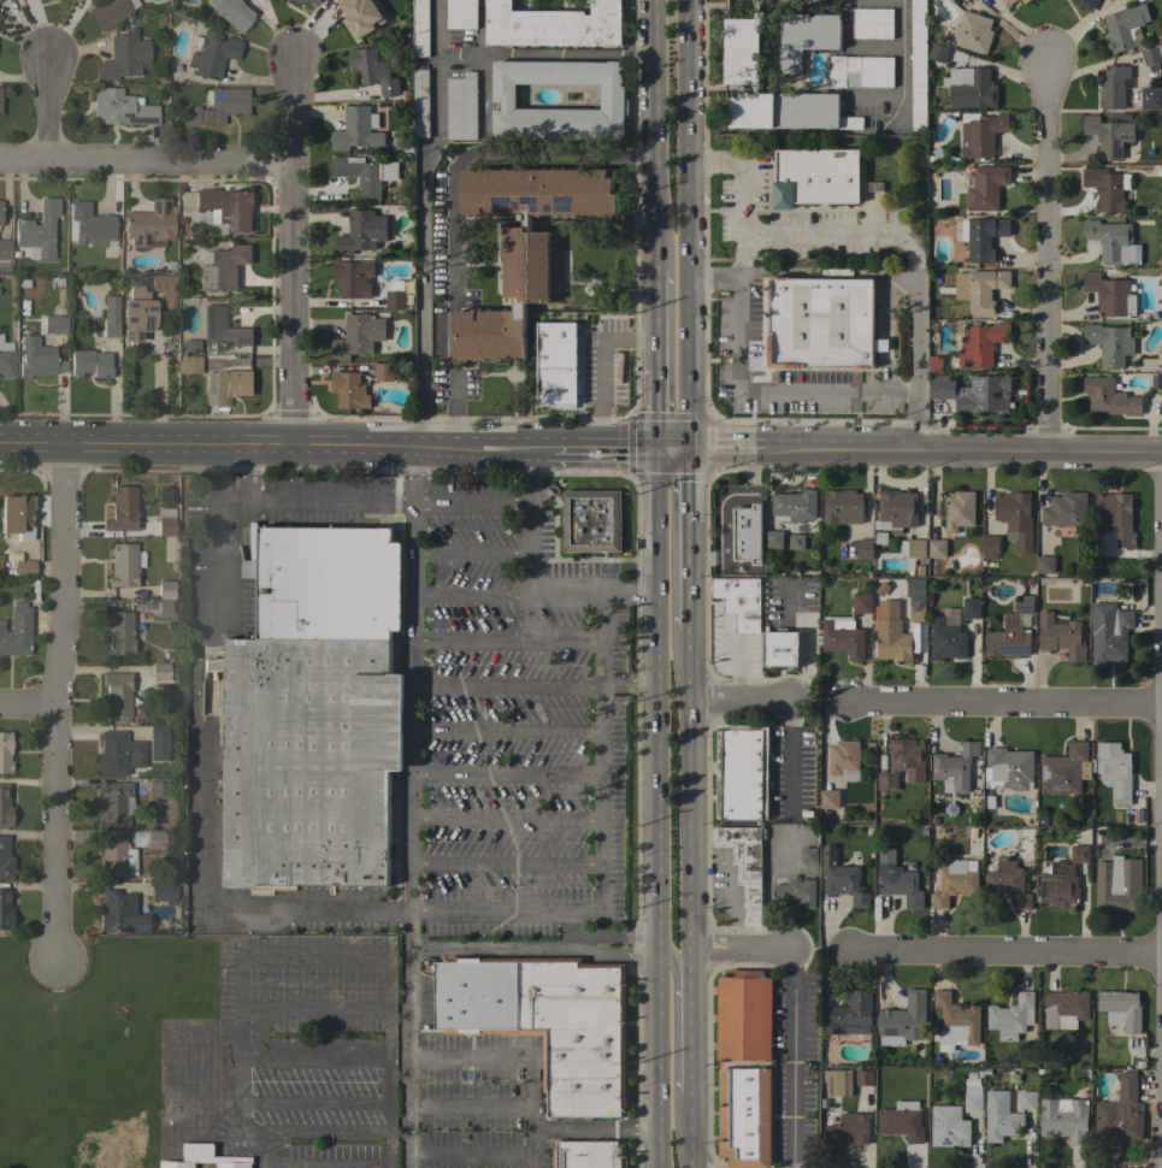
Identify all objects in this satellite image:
building: (950, 0)
building: (978, 0)
building: (1139, 0)
building: (307, 1)
building: (1025, 1)
building: (1007, 2)
building: (1085, 4)
building: (110, 11)
building: (232, 12)
building: (461, 13)
building: (361, 16)
building: (872, 23)
building: (555, 24)
road: (482, 26)
building: (1125, 26)
building: (420, 28)
building: (972, 33)
building: (807, 37)
road: (437, 51)
building: (212, 53)
road: (567, 53)
building: (937, 54)
building: (124, 55)
building: (743, 57)
building: (1151, 58)
road: (903, 64)
building: (918, 65)
building: (372, 71)
building: (861, 71)
building: (1113, 87)
building: (971, 88)
road: (483, 93)
building: (612, 93)
building: (1151, 98)
building: (420, 102)
building: (1131, 102)
building: (216, 106)
building: (461, 106)
building: (119, 107)
road: (45, 110)
rooftop solar panel: (135, 118)
building: (355, 130)
building: (980, 132)
road: (654, 135)
building: (1108, 136)
building: (936, 152)
building: (930, 160)
building: (948, 160)
road: (143, 161)
building: (362, 176)
building: (815, 177)
building: (985, 188)
building: (1107, 188)
rooftop solar panel: (527, 200)
building: (0, 203)
road: (452, 203)
rooftop solar panel: (154, 205)
rooftop solar panel: (161, 205)
rooftop solar panel: (499, 205)
rooftop solar panel: (515, 205)
rooftop solar panel: (561, 205)
building: (228, 207)
rooftop solar panel: (532, 208)
rooftop solar panel: (547, 210)
building: (0, 218)
building: (149, 223)
building: (90, 224)
road: (689, 226)
building: (37, 230)
building: (361, 232)
road: (868, 237)
building: (981, 237)
rooftop solar panel: (136, 238)
building: (1109, 240)
rooftop solar panel: (146, 241)
building: (524, 244)
rooftop solar panel: (96, 246)
building: (5, 248)
road: (289, 248)
road: (1046, 248)
road: (420, 249)
building: (223, 266)
building: (353, 278)
road: (716, 278)
building: (164, 289)
building: (979, 289)
building: (1110, 294)
building: (1157, 294)
building: (395, 300)
rooftop solar panel: (130, 303)
rooftop solar panel: (149, 307)
building: (136, 313)
building: (110, 314)
building: (57, 315)
rooftop solar panel: (130, 318)
rooftop solar panel: (146, 320)
road: (655, 320)
building: (821, 323)
building: (222, 326)
rooftop solar panel: (126, 335)
rooftop solar panel: (137, 335)
building: (358, 335)
building: (980, 342)
building: (189, 343)
building: (1109, 343)
building: (37, 358)
building: (6, 361)
building: (90, 362)
building: (188, 364)
building: (558, 364)
building: (934, 364)
road: (601, 367)
building: (384, 370)
building: (1156, 383)
rooftop solar panel: (974, 384)
building: (226, 385)
building: (940, 388)
road: (754, 389)
building: (349, 390)
building: (983, 395)
building: (1110, 397)
road: (656, 412)
road: (580, 450)
traffic signals: (690, 453)
traffic signals: (656, 454)
road: (247, 472)
road: (471, 503)
building: (794, 506)
building: (842, 507)
building: (122, 508)
building: (1066, 509)
building: (896, 511)
building: (958, 512)
building: (16, 514)
building: (1117, 517)
building: (1016, 519)
road: (531, 521)
building: (591, 521)
building: (165, 525)
building: (748, 533)
building: (879, 538)
building: (774, 539)
road: (690, 541)
building: (796, 542)
building: (990, 547)
building: (863, 548)
building: (913, 548)
building: (937, 548)
road: (472, 554)
building: (1044, 564)
building: (123, 565)
building: (23, 566)
building: (919, 571)
building: (326, 583)
building: (916, 588)
building: (166, 589)
building: (880, 590)
road: (473, 594)
road: (594, 594)
building: (739, 602)
building: (861, 603)
building: (1026, 604)
building: (165, 607)
building: (916, 608)
building: (971, 608)
rooftop solar panel: (1030, 608)
rooftop solar panel: (1010, 623)
building: (16, 630)
building: (118, 631)
building: (1109, 632)
building: (891, 633)
building: (946, 636)
building: (1061, 636)
building: (843, 637)
road: (603, 639)
building: (1008, 639)
road: (509, 641)
building: (781, 648)
rooftop solar panel: (1014, 649)
building: (160, 671)
road: (509, 686)
road: (630, 686)
building: (117, 692)
road: (413, 696)
road: (63, 703)
road: (741, 703)
road: (1005, 707)
road: (31, 708)
road: (193, 719)
road: (790, 720)
road: (508, 730)
building: (158, 733)
building: (5, 753)
building: (117, 753)
building: (308, 760)
building: (844, 760)
building: (977, 762)
building: (903, 763)
building: (955, 768)
building: (1009, 768)
building: (978, 771)
building: (1064, 771)
building: (1115, 771)
building: (742, 772)
rooftop solar panel: (1045, 773)
road: (508, 775)
road: (789, 775)
building: (158, 789)
rooftop solar panel: (1057, 789)
road: (691, 791)
building: (828, 801)
building: (989, 802)
building: (5, 804)
building: (114, 804)
road: (655, 810)
building: (803, 812)
building: (1137, 818)
road: (507, 820)
building: (934, 821)
building: (1040, 821)
building: (1030, 824)
road: (603, 832)
building: (922, 832)
building: (972, 833)
building: (148, 838)
building: (1079, 854)
building: (808, 855)
building: (5, 859)
building: (116, 859)
building: (743, 859)
road: (507, 863)
building: (909, 866)
rooftop solar panel: (1054, 868)
building: (842, 879)
building: (955, 881)
building: (899, 883)
building: (1008, 883)
building: (1117, 885)
building: (1058, 886)
rooftop solar panel: (1042, 889)
building: (158, 891)
building: (795, 892)
building: (5, 909)
road: (490, 910)
building: (119, 912)
rooftop solar panel: (104, 925)
rooftop solar panel: (134, 931)
road: (490, 948)
road: (613, 954)
road: (744, 954)
road: (1007, 954)
road: (241, 960)
road: (674, 973)
building: (1064, 1008)
building: (1121, 1009)
road: (312, 1010)
building: (850, 1015)
building: (744, 1016)
building: (1011, 1016)
building: (547, 1021)
building: (903, 1021)
building: (955, 1021)
road: (691, 1024)
rooftop solar panel: (889, 1031)
road: (408, 1057)
road: (277, 1058)
building: (936, 1058)
road: (791, 1061)
building: (985, 1072)
building: (971, 1075)
building: (865, 1078)
road: (169, 1080)
building: (837, 1083)
rooftop solar panel: (830, 1084)
rooftop solar panel: (844, 1084)
road: (535, 1092)
building: (973, 1099)
building: (1027, 1101)
road: (205, 1102)
road: (312, 1102)
road: (471, 1107)
building: (1120, 1113)
building: (744, 1116)
rooftop solar panel: (830, 1117)
building: (999, 1117)
building: (1064, 1120)
building: (901, 1121)
rooftop solar panel: (937, 1122)
building: (948, 1126)
building: (845, 1127)
road: (692, 1131)
road: (535, 1143)
road: (267, 1149)
road: (385, 1149)
road: (471, 1155)
building: (589, 1155)
building: (205, 1157)
road: (535, 1161)

